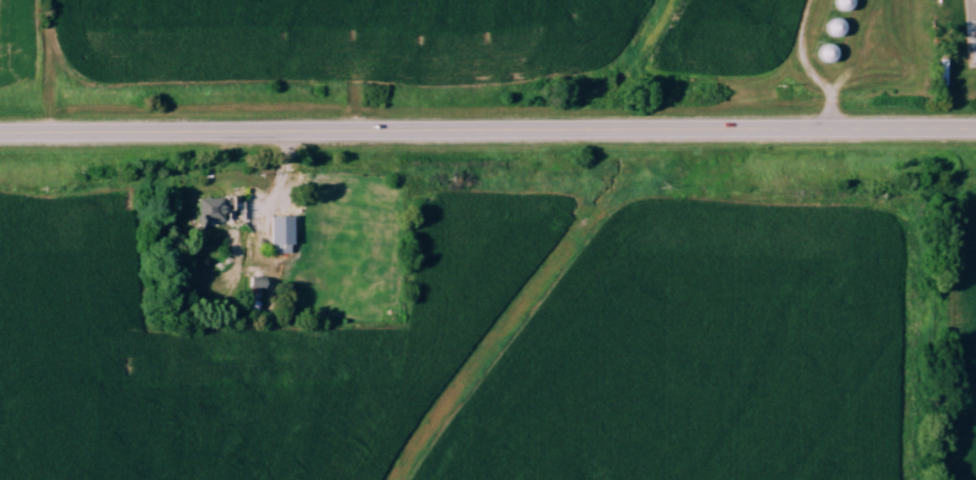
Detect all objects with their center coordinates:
building: (837, 27)
building: (971, 49)
building: (827, 53)
road: (488, 132)
building: (213, 208)
building: (282, 233)

